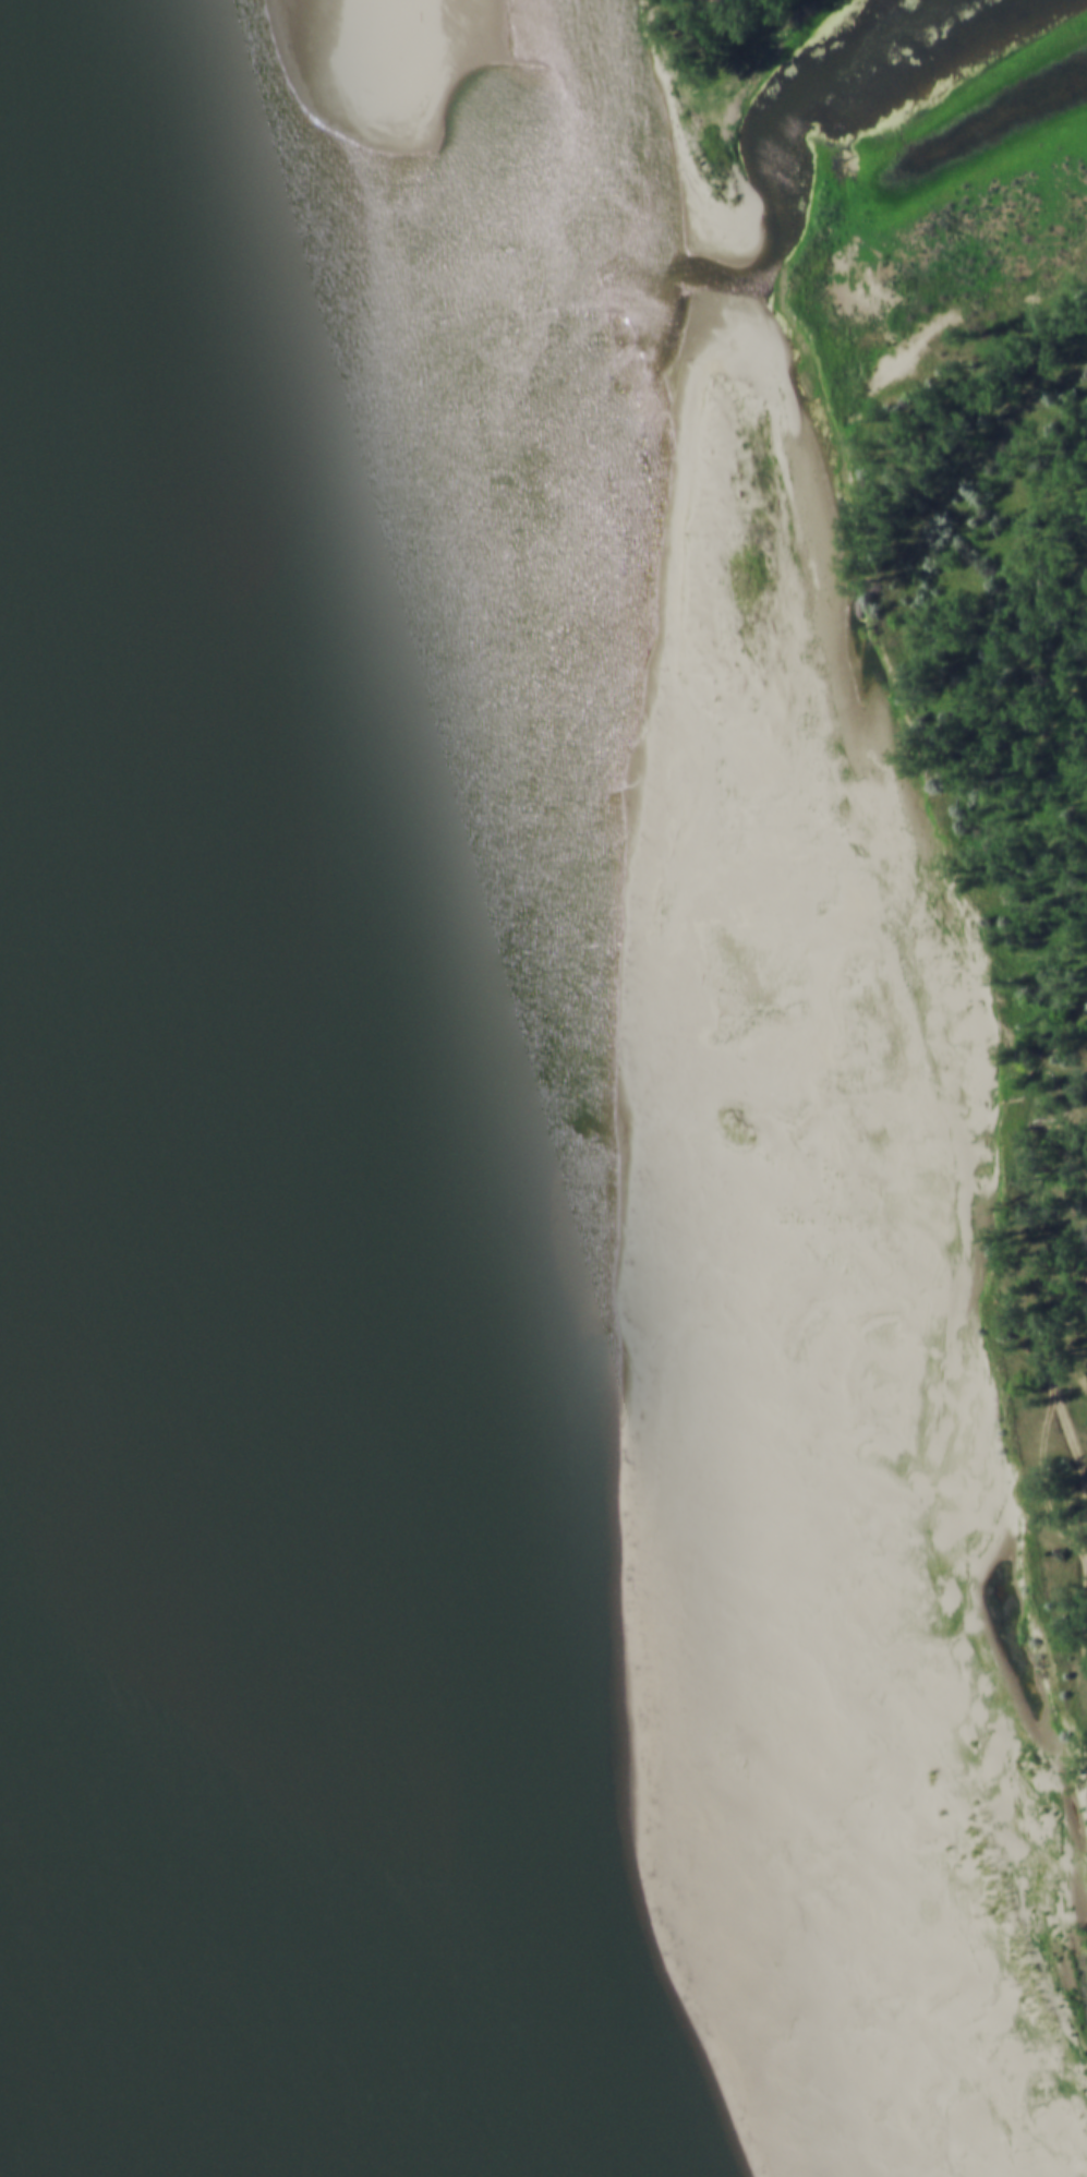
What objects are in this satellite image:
river: (704, 262)
road: (1059, 1409)
road: (1086, 1651)
river: (94, 1670)

